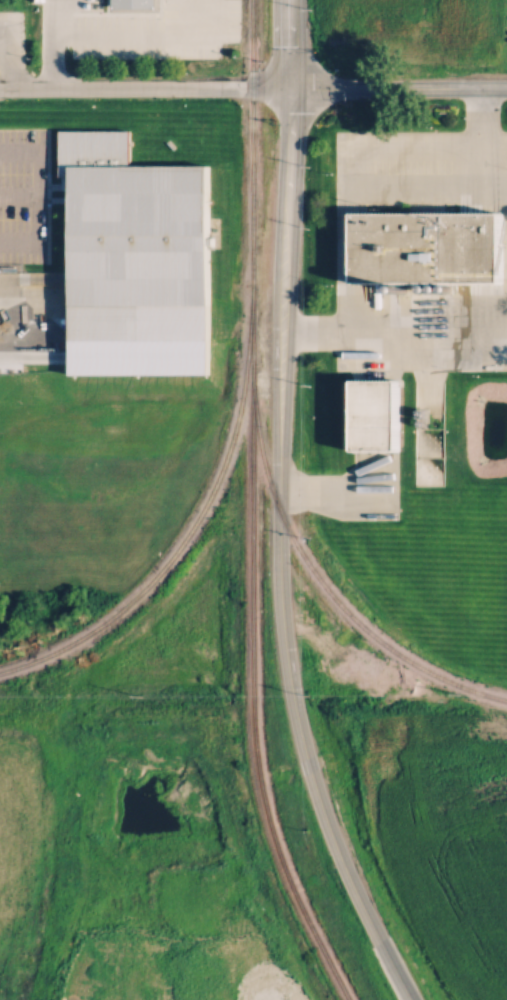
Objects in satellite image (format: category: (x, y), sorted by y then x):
building: (134, 3)
road: (211, 43)
road: (54, 44)
road: (287, 44)
road: (4, 74)
road: (253, 88)
traffic signals: (289, 88)
road: (286, 139)
road: (474, 149)
building: (432, 248)
road: (23, 284)
building: (132, 285)
road: (391, 337)
building: (383, 413)
railway: (247, 508)
railway: (173, 560)
railway: (321, 575)
road: (281, 608)

